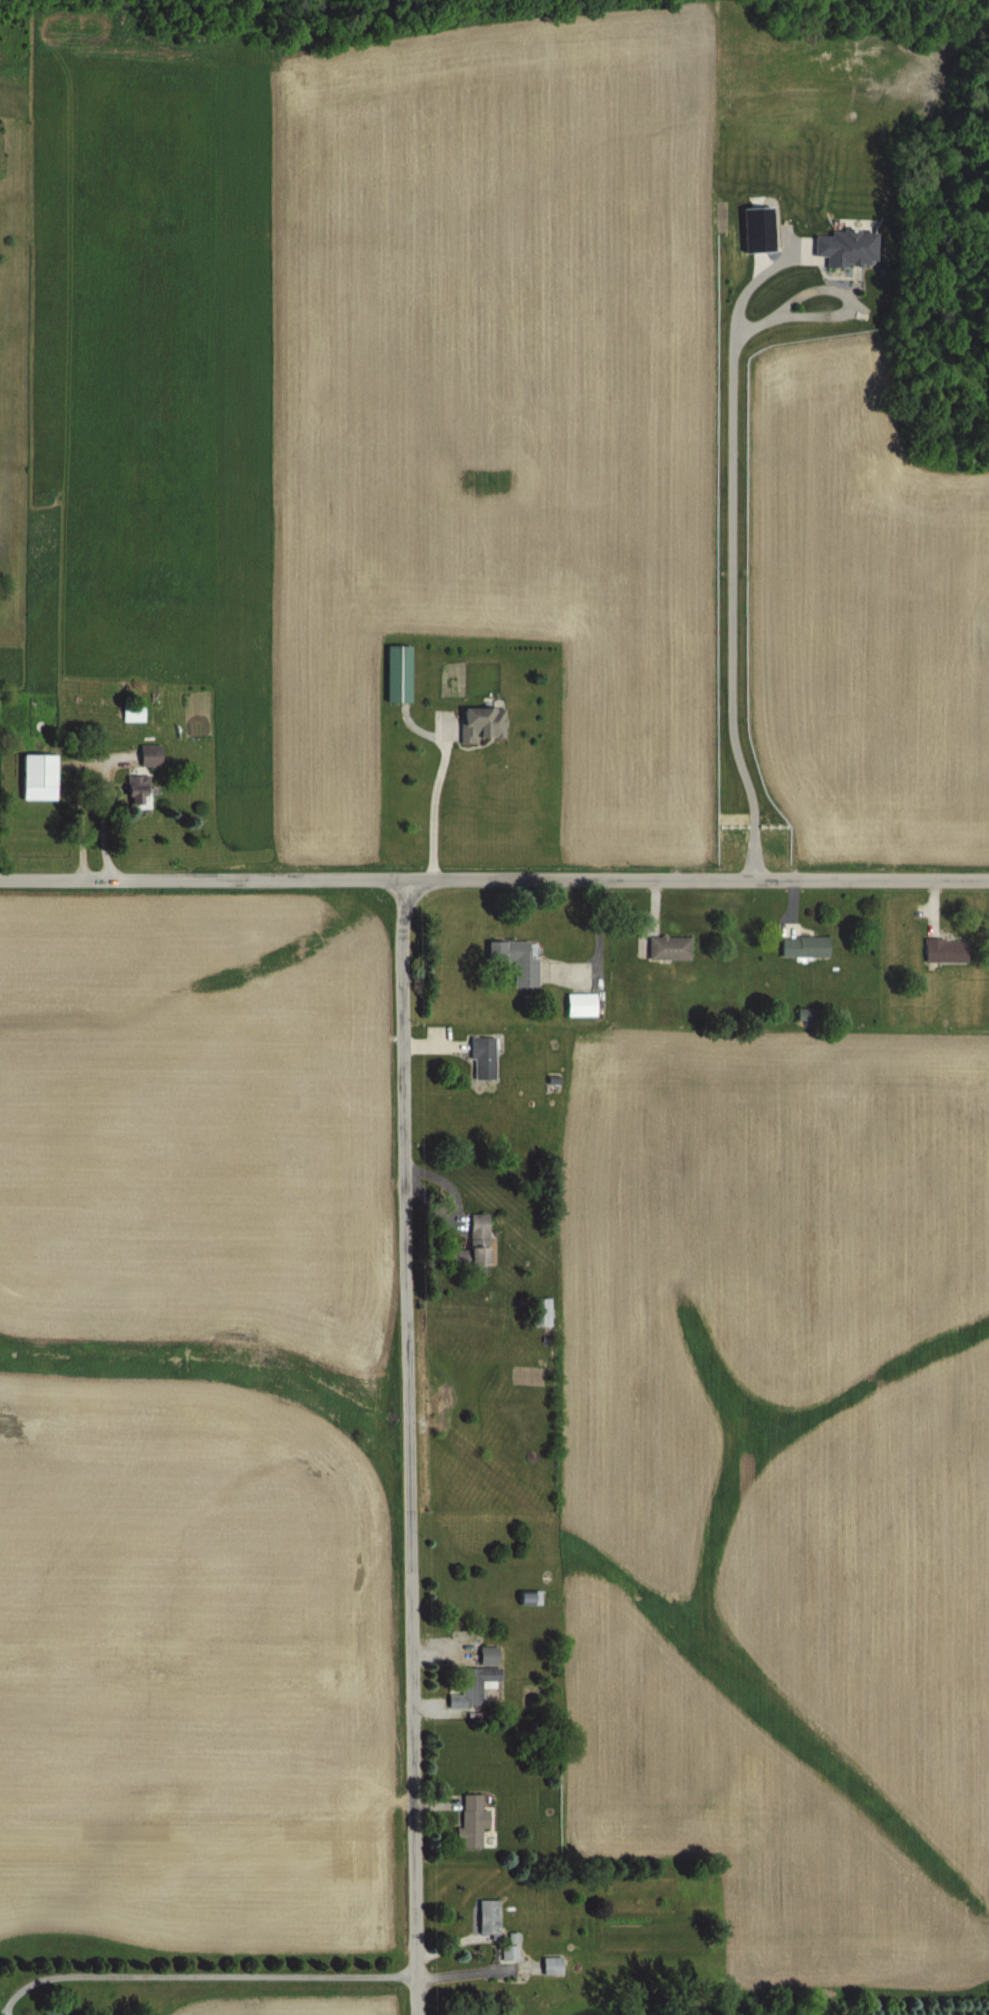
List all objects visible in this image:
crop: (647, 409)
road: (731, 596)
building: (394, 673)
building: (128, 713)
building: (477, 723)
building: (144, 763)
road: (435, 777)
building: (33, 778)
road: (94, 802)
building: (135, 803)
road: (76, 812)
road: (494, 878)
building: (801, 946)
building: (666, 948)
building: (943, 951)
building: (512, 961)
building: (574, 1005)
building: (478, 1053)
building: (470, 1243)
building: (537, 1312)
road: (410, 1446)
crop: (190, 1449)
crop: (787, 1487)
building: (473, 1679)
building: (469, 1822)
building: (485, 1916)
road: (202, 1979)
building: (48, 2011)

